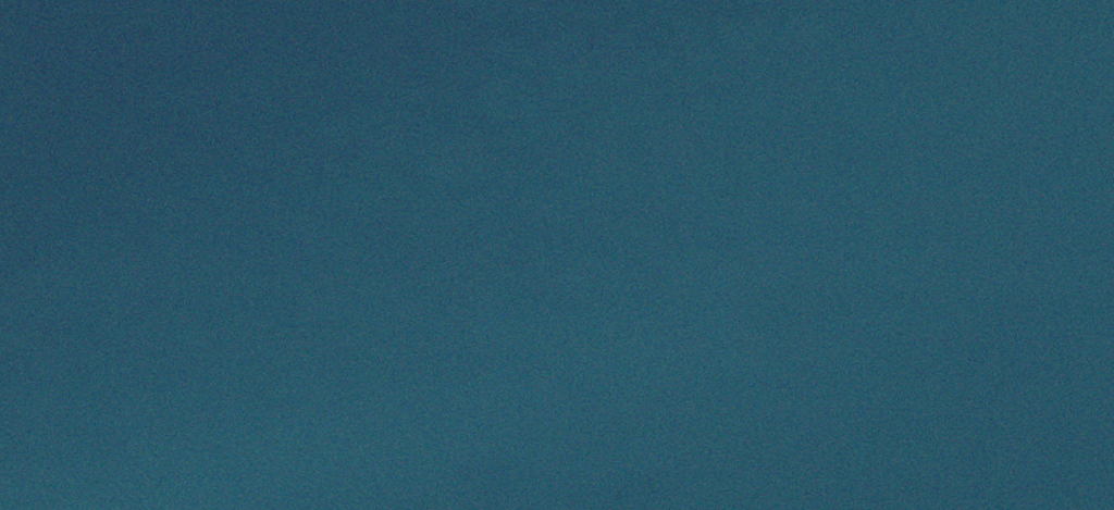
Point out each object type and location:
river: (557, 327)

